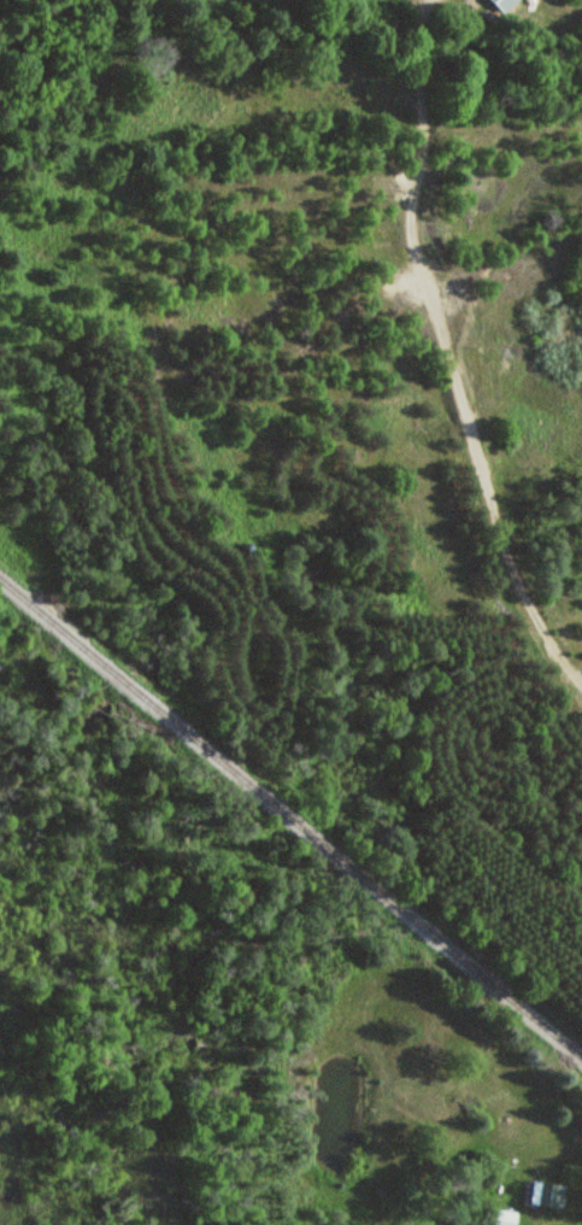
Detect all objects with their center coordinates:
building: (498, 2)
building: (493, 18)
road: (447, 350)
railway: (290, 816)
building: (545, 1195)
building: (504, 1218)

